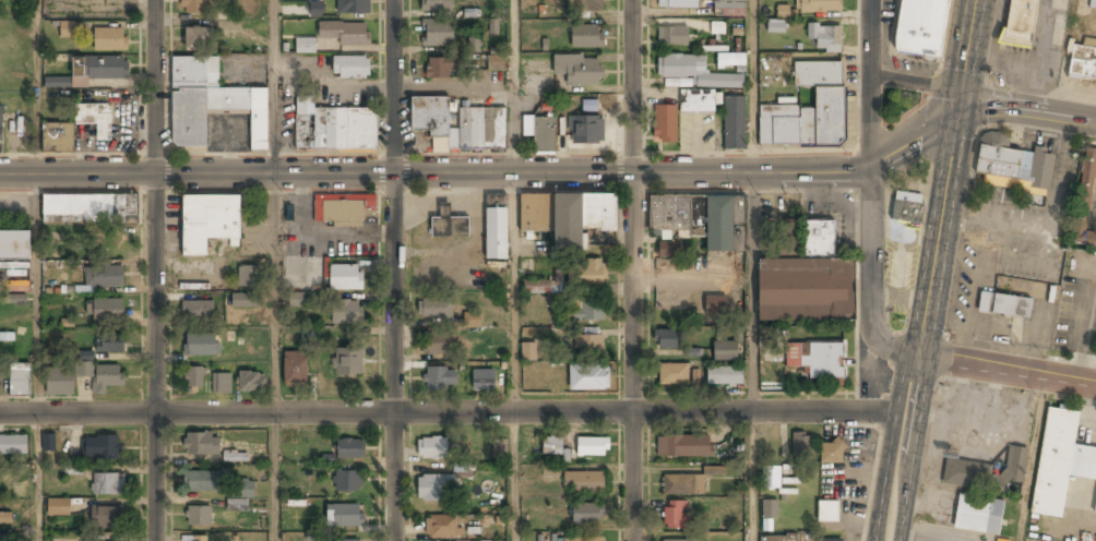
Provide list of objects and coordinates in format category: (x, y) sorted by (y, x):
building: (677, 4)
building: (438, 5)
building: (585, 5)
building: (193, 7)
building: (354, 7)
building: (818, 7)
building: (315, 9)
building: (729, 9)
building: (785, 12)
building: (1018, 23)
building: (493, 26)
building: (777, 27)
building: (919, 27)
building: (65, 28)
building: (727, 32)
building: (344, 34)
building: (438, 34)
building: (586, 37)
building: (672, 37)
building: (825, 39)
building: (110, 40)
building: (198, 40)
building: (305, 45)
building: (475, 47)
building: (1083, 60)
building: (731, 62)
building: (496, 64)
building: (350, 68)
building: (100, 69)
building: (441, 69)
building: (195, 72)
building: (581, 73)
building: (695, 73)
building: (56, 82)
building: (679, 82)
road: (916, 84)
building: (228, 99)
building: (696, 103)
building: (306, 104)
building: (588, 105)
building: (807, 111)
building: (93, 112)
building: (432, 113)
traffic signals: (958, 113)
building: (189, 116)
building: (259, 117)
building: (734, 124)
building: (466, 125)
building: (666, 125)
building: (325, 127)
building: (357, 127)
building: (479, 127)
building: (497, 127)
building: (1, 130)
parking lot: (228, 130)
building: (305, 130)
building: (587, 131)
building: (540, 134)
building: (59, 135)
building: (455, 136)
building: (440, 144)
building: (1012, 165)
road: (555, 173)
road: (872, 191)
building: (1083, 201)
building: (905, 206)
building: (344, 208)
building: (88, 209)
building: (537, 211)
building: (582, 216)
building: (698, 219)
building: (207, 223)
building: (451, 231)
building: (497, 235)
building: (106, 244)
building: (15, 247)
building: (667, 250)
road: (38, 269)
road: (154, 269)
road: (276, 269)
road: (393, 269)
road: (632, 269)
road: (753, 269)
road: (930, 269)
road: (515, 270)
building: (586, 275)
building: (247, 277)
building: (105, 278)
building: (346, 278)
building: (808, 282)
building: (14, 285)
building: (535, 288)
building: (303, 300)
building: (245, 301)
building: (984, 302)
building: (1011, 305)
building: (715, 306)
building: (434, 309)
building: (106, 310)
building: (196, 311)
building: (589, 312)
building: (346, 313)
building: (472, 321)
building: (667, 340)
building: (109, 344)
building: (201, 346)
building: (437, 346)
building: (588, 346)
building: (692, 352)
building: (725, 352)
building: (528, 353)
building: (817, 361)
building: (348, 362)
building: (83, 363)
building: (295, 370)
road: (1005, 371)
building: (103, 376)
building: (672, 376)
building: (724, 377)
building: (193, 378)
building: (19, 381)
building: (441, 381)
building: (483, 381)
building: (588, 381)
building: (60, 382)
building: (251, 383)
building: (221, 384)
road: (454, 411)
building: (48, 442)
building: (202, 445)
building: (13, 446)
building: (803, 446)
building: (683, 447)
building: (102, 448)
building: (350, 449)
building: (433, 449)
building: (575, 454)
building: (832, 454)
building: (235, 457)
road: (1033, 459)
building: (1060, 462)
building: (73, 469)
building: (550, 470)
building: (987, 473)
building: (781, 477)
building: (201, 482)
building: (347, 482)
building: (584, 483)
building: (107, 485)
building: (682, 486)
building: (436, 489)
building: (241, 496)
building: (59, 509)
building: (1095, 510)
building: (827, 512)
building: (977, 514)
building: (587, 515)
building: (769, 515)
building: (674, 516)
building: (106, 517)
building: (198, 517)
building: (344, 517)
building: (5, 520)
building: (442, 528)
building: (199, 539)
building: (778, 539)
building: (350, 540)
building: (584, 540)
building: (677, 540)
building: (830, 540)

